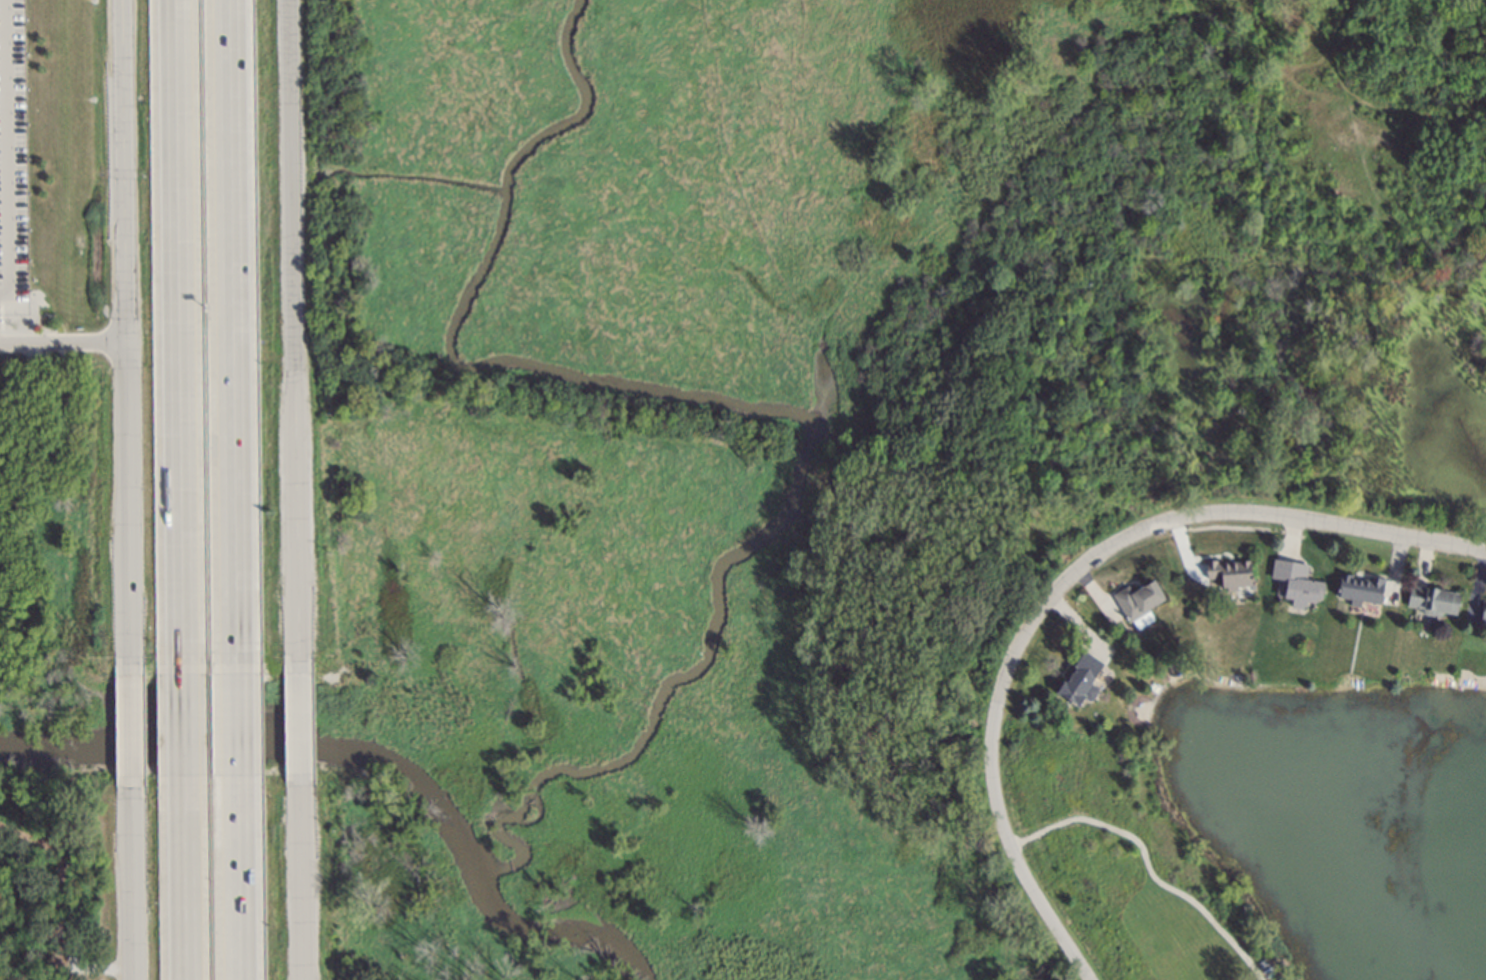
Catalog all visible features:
road: (4, 147)
road: (299, 331)
road: (131, 336)
road: (179, 336)
road: (229, 337)
road: (66, 340)
road: (1380, 533)
building: (1227, 570)
building: (1293, 579)
building: (1359, 586)
building: (1427, 595)
building: (1135, 597)
building: (1481, 607)
road: (1008, 672)
building: (1081, 676)
road: (303, 721)
road: (183, 724)
road: (131, 725)
road: (233, 725)
river: (267, 746)
park: (1130, 858)
road: (185, 878)
road: (234, 878)
road: (132, 879)
road: (304, 880)
river: (555, 932)

